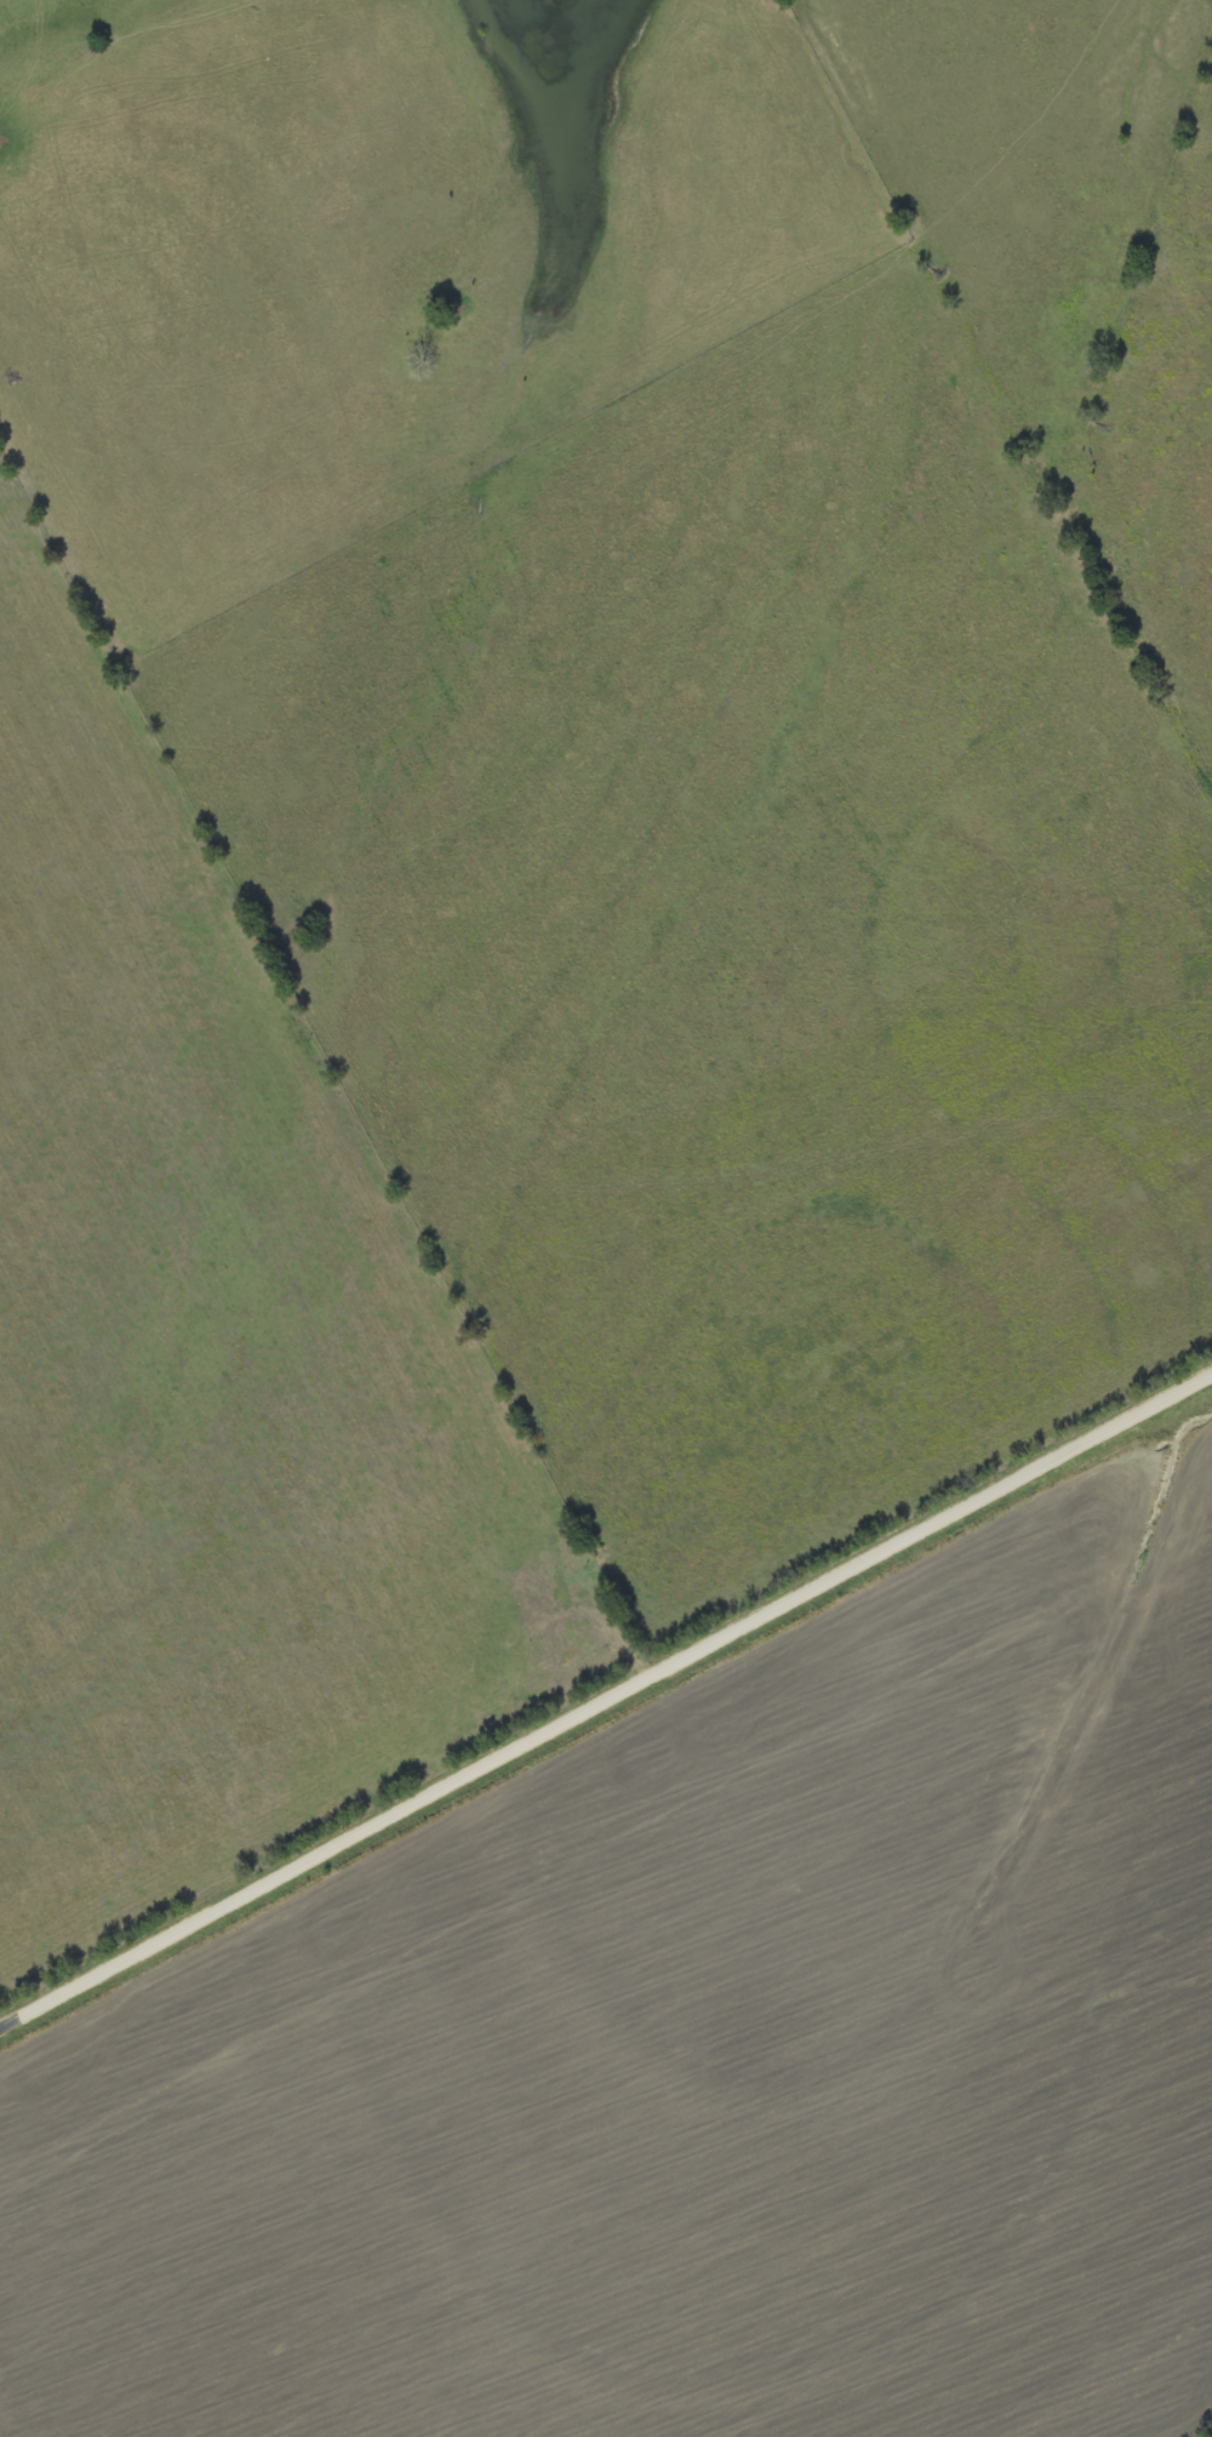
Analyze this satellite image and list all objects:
road: (606, 1713)

